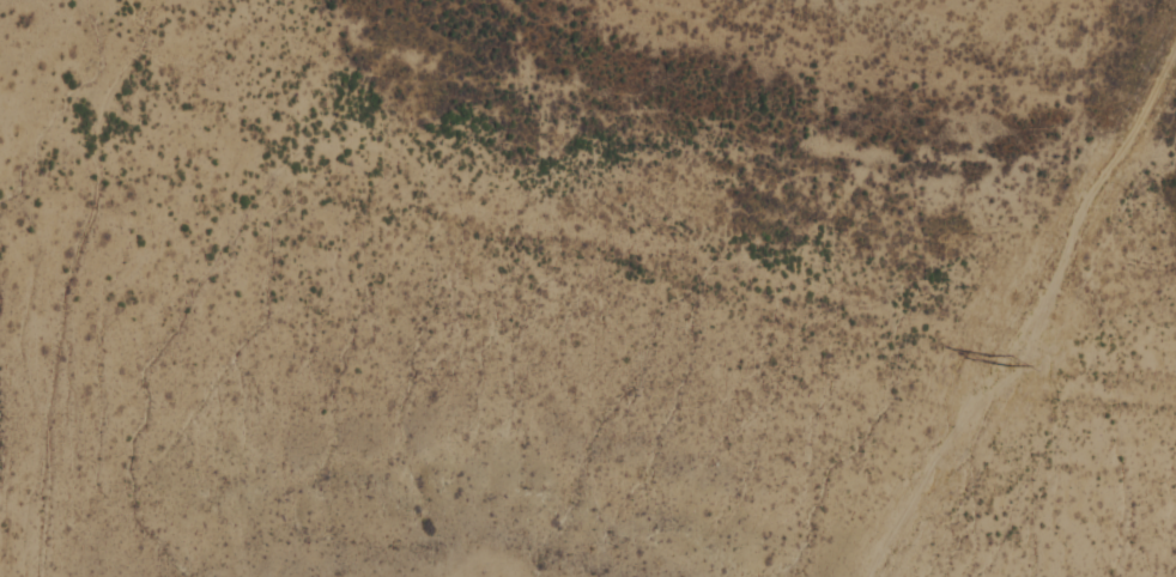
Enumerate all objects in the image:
power tower: (992, 363)

